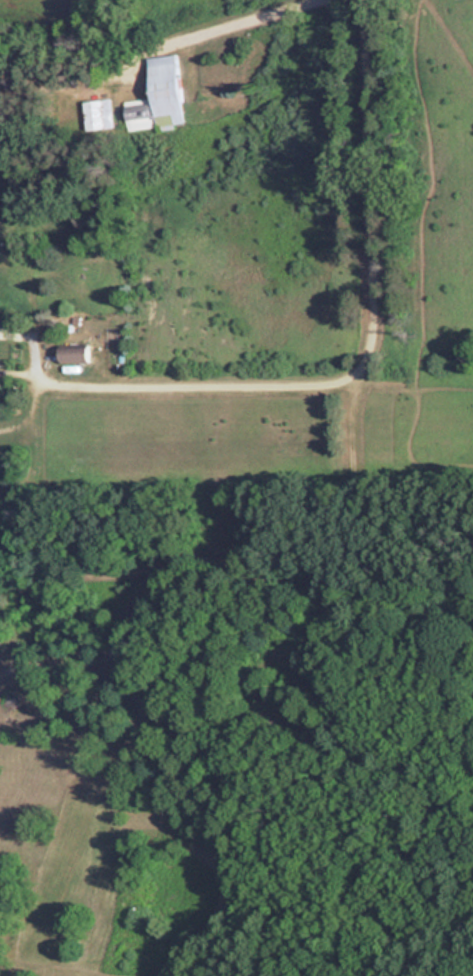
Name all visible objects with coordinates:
road: (234, 21)
building: (168, 89)
building: (99, 113)
building: (141, 114)
road: (362, 205)
building: (75, 354)
road: (184, 382)

